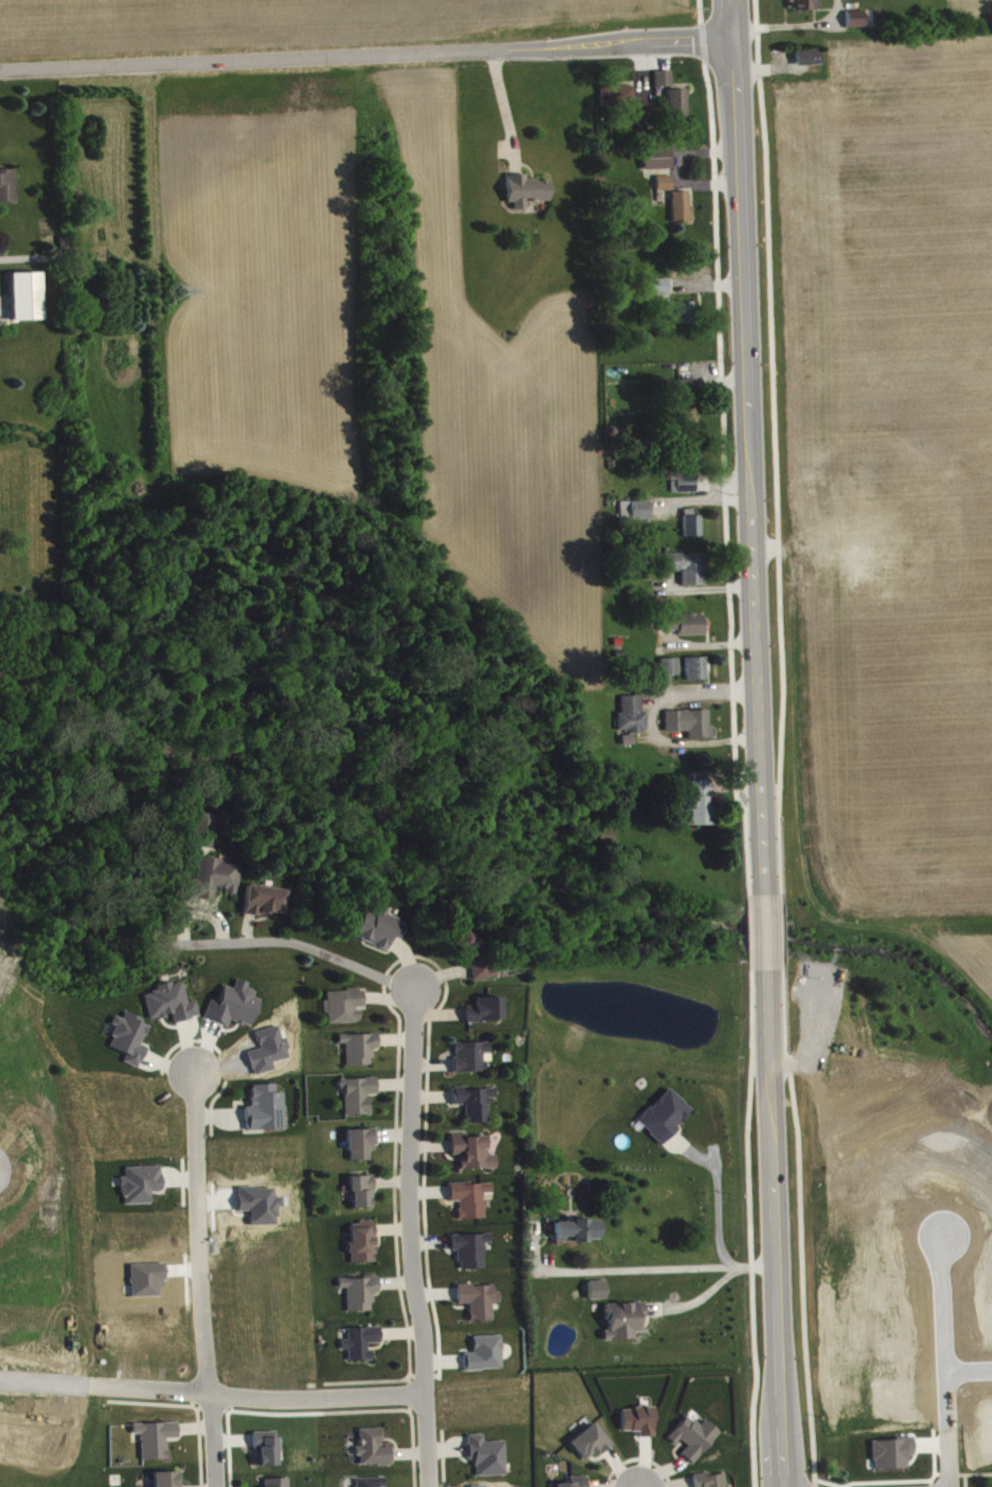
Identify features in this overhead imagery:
building: (807, 8)
road: (698, 10)
building: (862, 25)
road: (798, 32)
road: (700, 40)
road: (366, 54)
building: (809, 63)
building: (665, 84)
building: (618, 101)
building: (679, 109)
building: (644, 119)
building: (659, 165)
building: (665, 189)
building: (9, 192)
building: (527, 196)
building: (682, 212)
power tower: (177, 291)
building: (662, 293)
building: (28, 302)
building: (684, 318)
building: (689, 407)
road: (774, 445)
road: (747, 446)
road: (722, 477)
building: (687, 486)
building: (636, 517)
building: (693, 530)
building: (688, 573)
building: (693, 631)
building: (672, 673)
building: (697, 674)
building: (633, 721)
building: (691, 729)
building: (629, 746)
building: (700, 809)
building: (203, 837)
building: (217, 884)
building: (265, 907)
road: (780, 929)
road: (748, 930)
road: (765, 930)
building: (381, 935)
road: (303, 945)
building: (475, 959)
building: (172, 1009)
building: (235, 1011)
building: (346, 1012)
building: (486, 1016)
building: (131, 1045)
building: (361, 1054)
building: (473, 1063)
building: (359, 1101)
building: (475, 1108)
building: (267, 1115)
building: (666, 1122)
building: (361, 1150)
building: (473, 1158)
building: (142, 1190)
building: (363, 1198)
road: (716, 1198)
building: (471, 1205)
road: (800, 1226)
road: (748, 1227)
road: (774, 1227)
road: (197, 1233)
building: (577, 1237)
road: (408, 1238)
building: (363, 1248)
building: (471, 1256)
road: (654, 1268)
road: (709, 1289)
building: (360, 1299)
building: (480, 1306)
building: (625, 1327)
road: (943, 1333)
building: (362, 1348)
building: (486, 1360)
road: (968, 1369)
road: (212, 1393)
road: (404, 1408)
building: (640, 1427)
road: (210, 1440)
building: (695, 1443)
building: (156, 1445)
building: (591, 1449)
building: (374, 1454)
building: (266, 1455)
road: (948, 1458)
building: (488, 1462)
building: (168, 1482)
building: (712, 1483)
building: (579, 1484)
building: (277, 1485)
building: (372, 1485)

